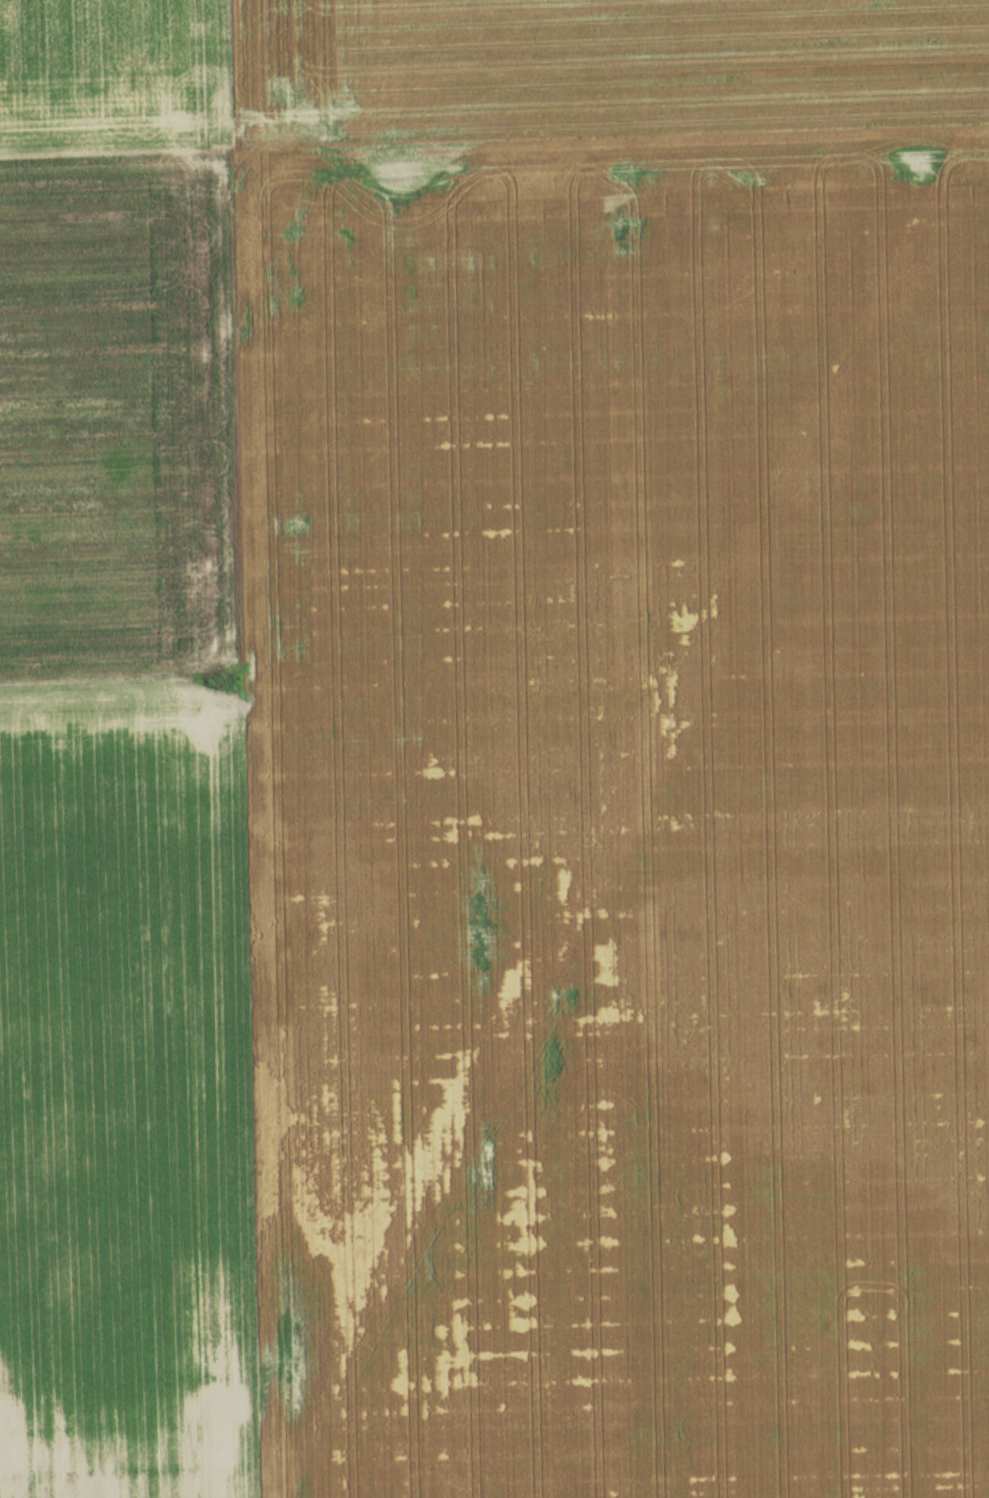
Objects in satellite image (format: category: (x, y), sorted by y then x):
crop: (594, 67)
crop: (112, 76)
crop: (616, 812)
crop: (120, 837)

